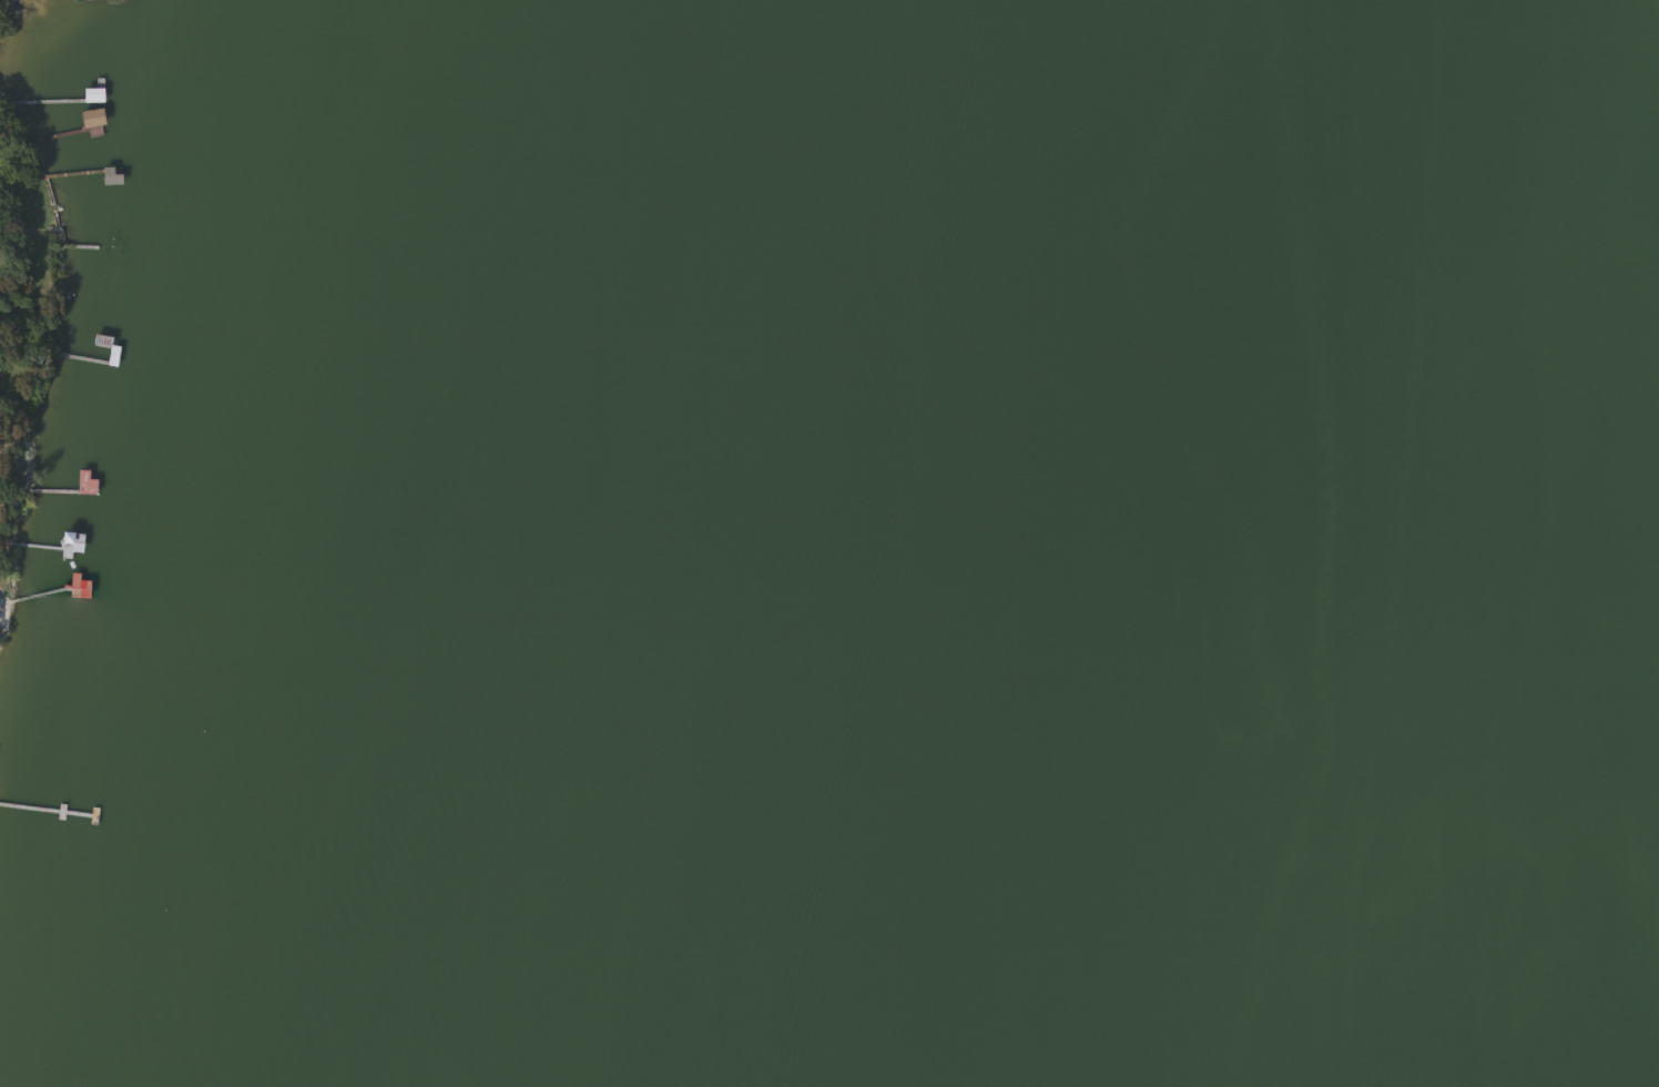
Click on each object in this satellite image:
building: (91, 95)
building: (91, 119)
building: (110, 177)
building: (110, 247)
river: (1265, 543)
building: (77, 587)
building: (27, 999)

